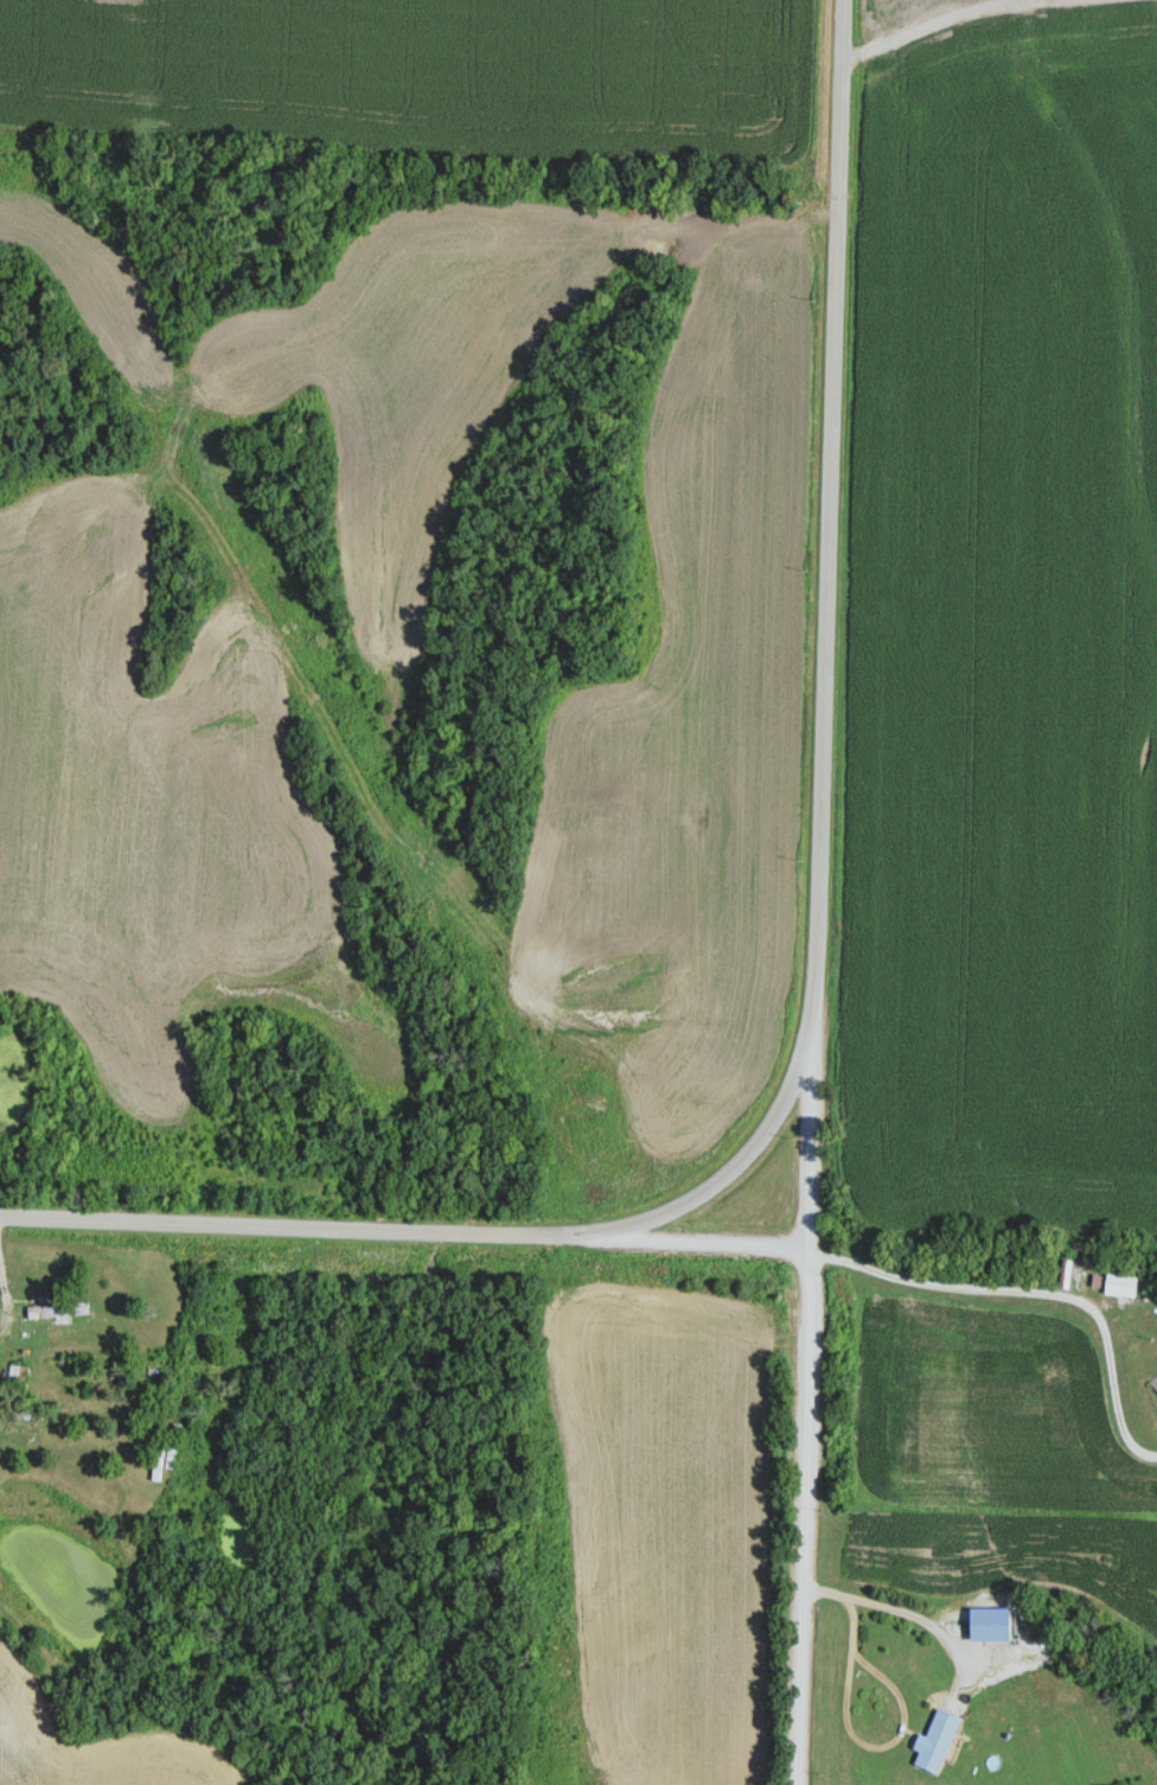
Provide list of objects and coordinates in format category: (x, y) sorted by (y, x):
road: (817, 969)
road: (703, 1239)
building: (1125, 1282)
building: (45, 1324)
building: (71, 1382)
building: (1155, 1383)
road: (810, 1400)
building: (941, 1741)

